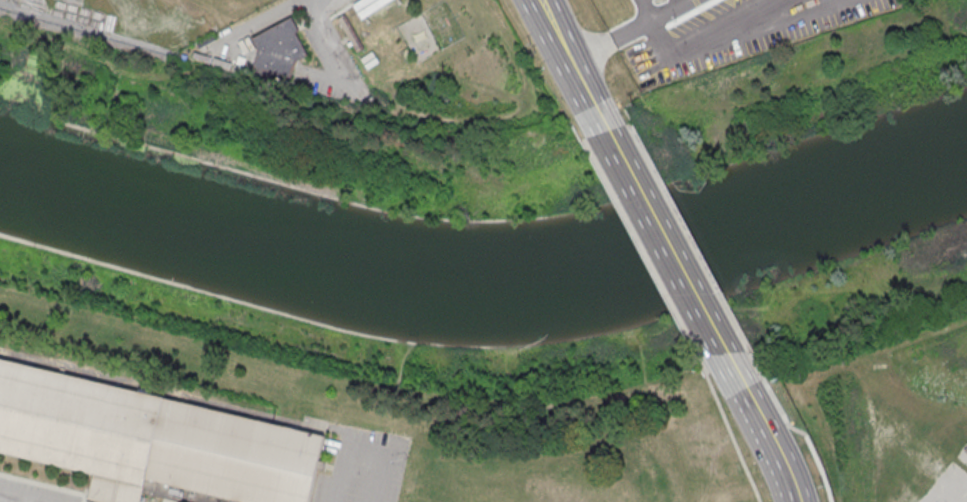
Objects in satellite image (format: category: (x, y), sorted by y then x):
building: (370, 8)
road: (649, 8)
road: (627, 31)
road: (708, 31)
building: (281, 48)
road: (571, 65)
road: (686, 230)
road: (662, 243)
road: (645, 256)
river: (486, 284)
park: (504, 360)
road: (791, 424)
road: (760, 426)
road: (732, 437)
building: (151, 441)
road: (360, 450)
parking lot: (360, 466)
parking lot: (31, 493)
road: (3, 501)

